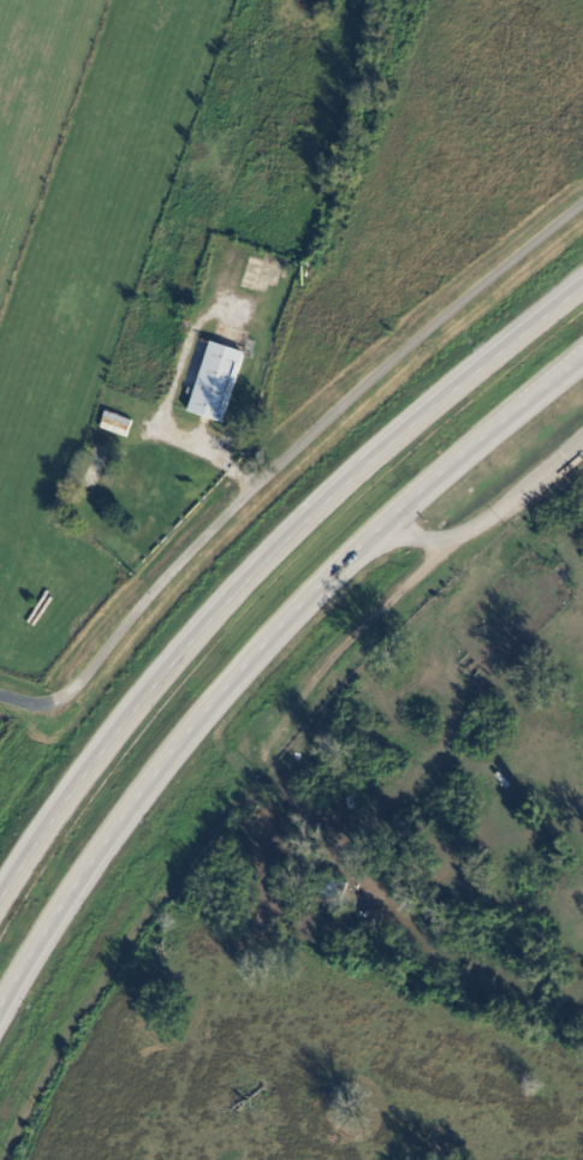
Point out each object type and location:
building: (219, 380)
road: (179, 383)
building: (119, 416)
road: (281, 457)
road: (492, 512)
road: (258, 563)
road: (255, 650)

